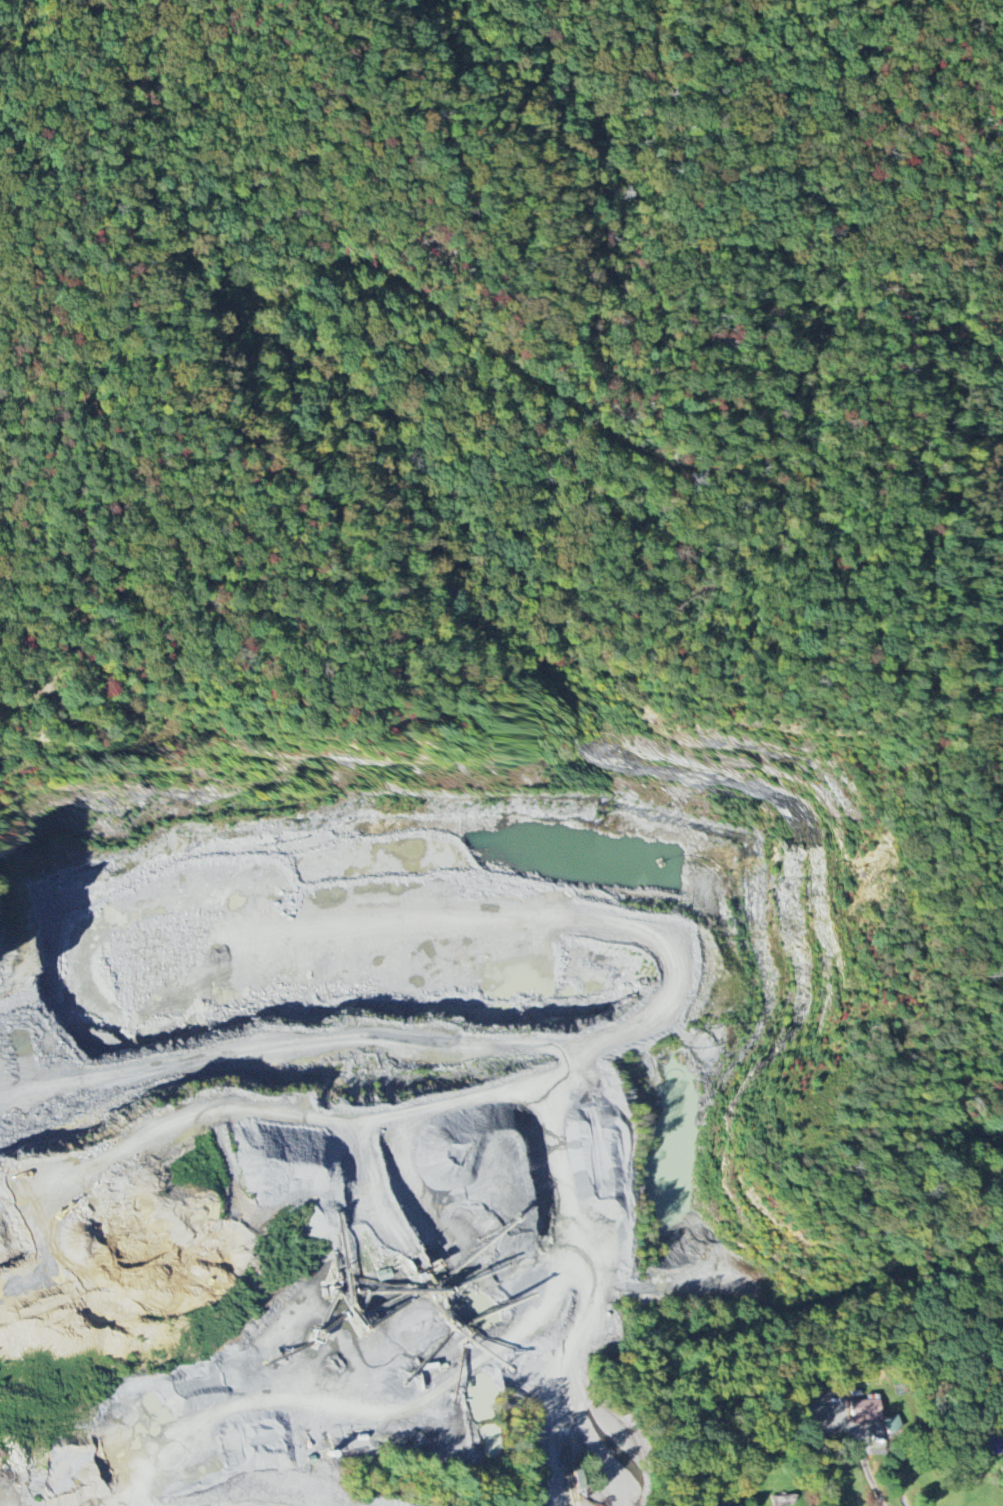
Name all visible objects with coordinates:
quarry: (389, 1108)
building: (867, 1411)
building: (892, 1424)
road: (556, 1449)

